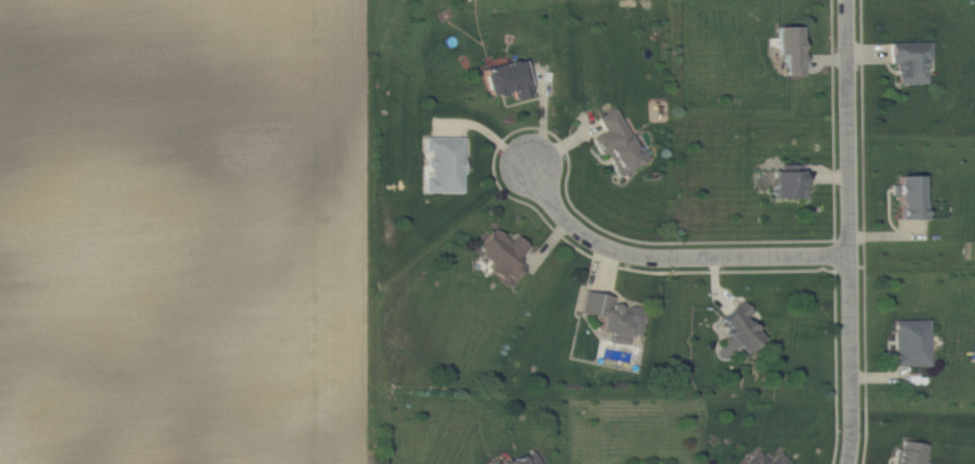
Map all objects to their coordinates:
building: (791, 47)
building: (911, 60)
building: (507, 78)
building: (616, 142)
building: (444, 163)
building: (788, 180)
building: (910, 195)
road: (849, 232)
building: (502, 253)
road: (670, 260)
building: (612, 315)
building: (741, 327)
building: (912, 342)
building: (910, 453)
building: (525, 459)
building: (765, 459)

